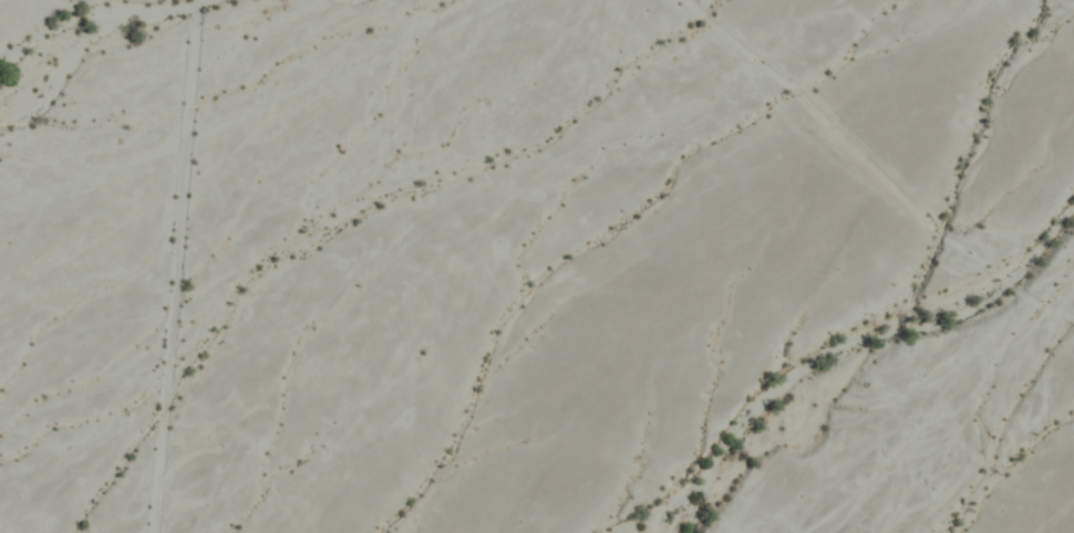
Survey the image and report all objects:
road: (164, 266)

